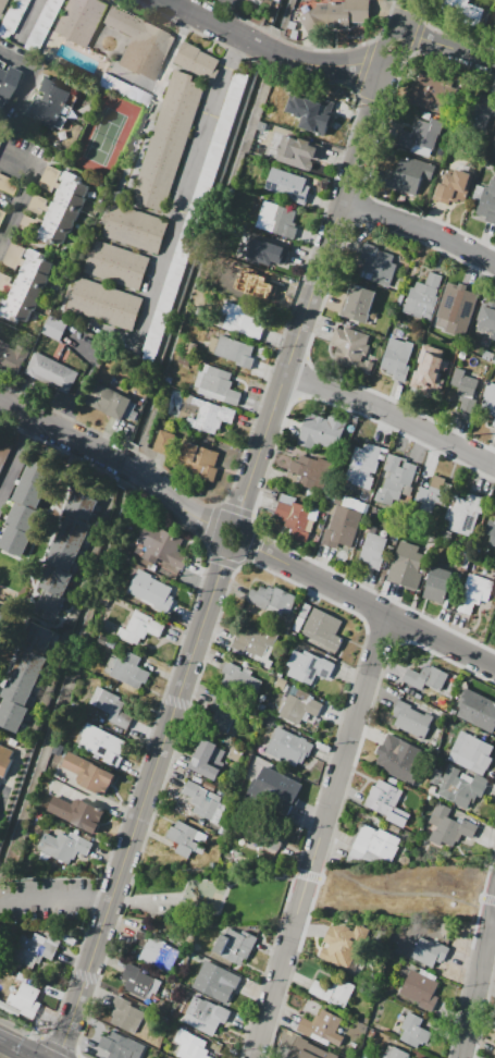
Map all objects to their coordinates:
building: (261, 0)
building: (2, 4)
road: (178, 4)
road: (407, 7)
road: (4, 9)
building: (470, 10)
road: (58, 13)
road: (223, 14)
building: (334, 14)
road: (26, 16)
building: (11, 17)
building: (79, 20)
building: (493, 24)
building: (41, 25)
road: (114, 33)
road: (447, 34)
road: (416, 37)
building: (140, 42)
road: (306, 47)
road: (95, 48)
building: (197, 61)
road: (326, 66)
road: (363, 66)
building: (2, 69)
road: (30, 74)
road: (137, 78)
building: (8, 84)
building: (55, 90)
building: (124, 90)
building: (432, 93)
road: (158, 98)
building: (51, 103)
road: (371, 104)
building: (312, 111)
building: (483, 111)
building: (44, 115)
building: (422, 134)
park: (104, 135)
building: (494, 139)
building: (168, 142)
road: (373, 146)
building: (494, 149)
building: (299, 152)
road: (1, 158)
building: (409, 175)
building: (49, 177)
building: (8, 185)
road: (185, 185)
building: (287, 185)
building: (453, 185)
road: (23, 193)
building: (487, 202)
building: (37, 204)
road: (8, 208)
building: (63, 209)
road: (366, 210)
building: (0, 211)
road: (157, 212)
building: (1, 214)
building: (194, 217)
building: (279, 218)
building: (27, 223)
building: (135, 227)
road: (418, 232)
road: (25, 242)
road: (131, 247)
road: (41, 249)
building: (267, 250)
building: (14, 255)
building: (115, 264)
building: (378, 264)
building: (4, 281)
building: (255, 281)
road: (117, 285)
building: (28, 287)
road: (298, 290)
building: (423, 297)
building: (0, 299)
building: (103, 303)
building: (358, 303)
building: (458, 306)
road: (315, 318)
building: (487, 318)
building: (240, 321)
road: (99, 322)
building: (54, 328)
building: (351, 349)
building: (234, 352)
building: (10, 358)
building: (397, 358)
building: (430, 371)
building: (51, 372)
road: (302, 377)
road: (85, 379)
building: (463, 382)
building: (219, 385)
road: (13, 392)
building: (107, 399)
building: (487, 399)
road: (391, 410)
building: (209, 416)
building: (494, 422)
building: (321, 431)
building: (164, 442)
building: (4, 452)
road: (16, 458)
building: (199, 460)
building: (363, 465)
building: (309, 471)
building: (397, 480)
road: (260, 488)
building: (432, 494)
building: (27, 503)
road: (216, 507)
building: (463, 513)
building: (295, 519)
building: (343, 527)
road: (233, 528)
building: (491, 531)
road: (244, 542)
building: (162, 546)
road: (250, 548)
building: (372, 550)
building: (65, 552)
road: (225, 561)
building: (407, 566)
road: (264, 568)
building: (440, 582)
building: (151, 590)
building: (474, 592)
building: (272, 599)
building: (1, 614)
building: (494, 615)
building: (0, 625)
building: (140, 627)
building: (323, 628)
road: (383, 631)
building: (255, 638)
building: (309, 666)
building: (126, 669)
building: (24, 677)
building: (426, 677)
road: (169, 681)
building: (239, 681)
building: (281, 682)
road: (372, 701)
building: (112, 705)
building: (297, 709)
building: (478, 710)
building: (224, 713)
building: (411, 719)
building: (102, 745)
building: (288, 747)
building: (473, 751)
building: (235, 753)
building: (397, 758)
building: (4, 759)
building: (208, 759)
building: (88, 774)
building: (458, 787)
building: (274, 792)
road: (3, 801)
building: (205, 801)
building: (386, 802)
building: (77, 813)
building: (449, 826)
road: (320, 834)
building: (263, 835)
building: (184, 838)
building: (374, 844)
building: (62, 848)
road: (300, 873)
road: (487, 875)
road: (313, 876)
road: (399, 893)
park: (210, 895)
road: (488, 898)
parking lot: (50, 899)
road: (57, 899)
road: (2, 903)
road: (215, 910)
road: (494, 916)
building: (234, 945)
building: (339, 947)
building: (154, 948)
building: (35, 949)
building: (430, 951)
road: (294, 962)
road: (264, 969)
road: (97, 979)
building: (214, 979)
building: (139, 982)
road: (478, 982)
road: (463, 983)
building: (4, 985)
building: (420, 988)
building: (332, 991)
building: (25, 1000)
road: (484, 1010)
building: (125, 1016)
building: (206, 1016)
building: (321, 1026)
road: (18, 1030)
building: (414, 1031)
road: (58, 1045)
traffic signals: (62, 1045)
building: (115, 1045)
building: (190, 1045)
road: (14, 1049)
building: (307, 1051)
building: (399, 1054)
building: (494, 1057)

